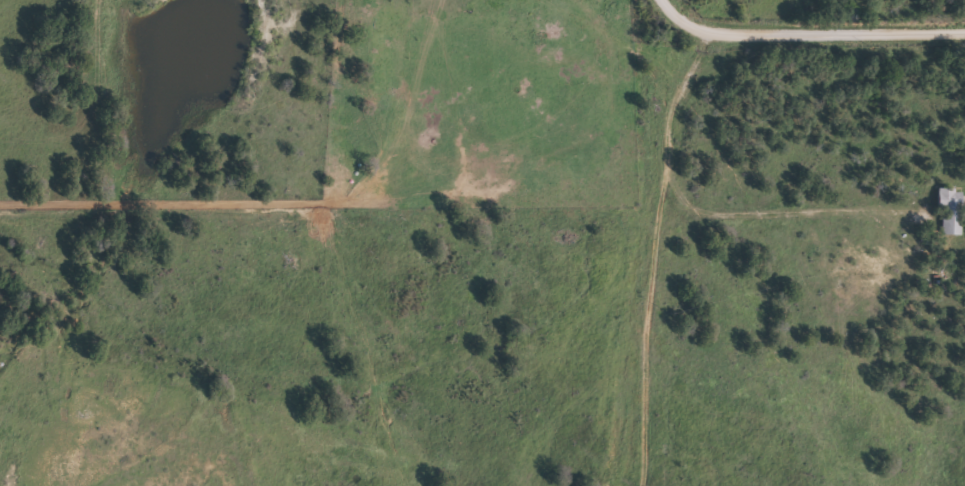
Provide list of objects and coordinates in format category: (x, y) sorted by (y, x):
road: (808, 35)
building: (946, 212)
road: (680, 259)
road: (824, 467)

